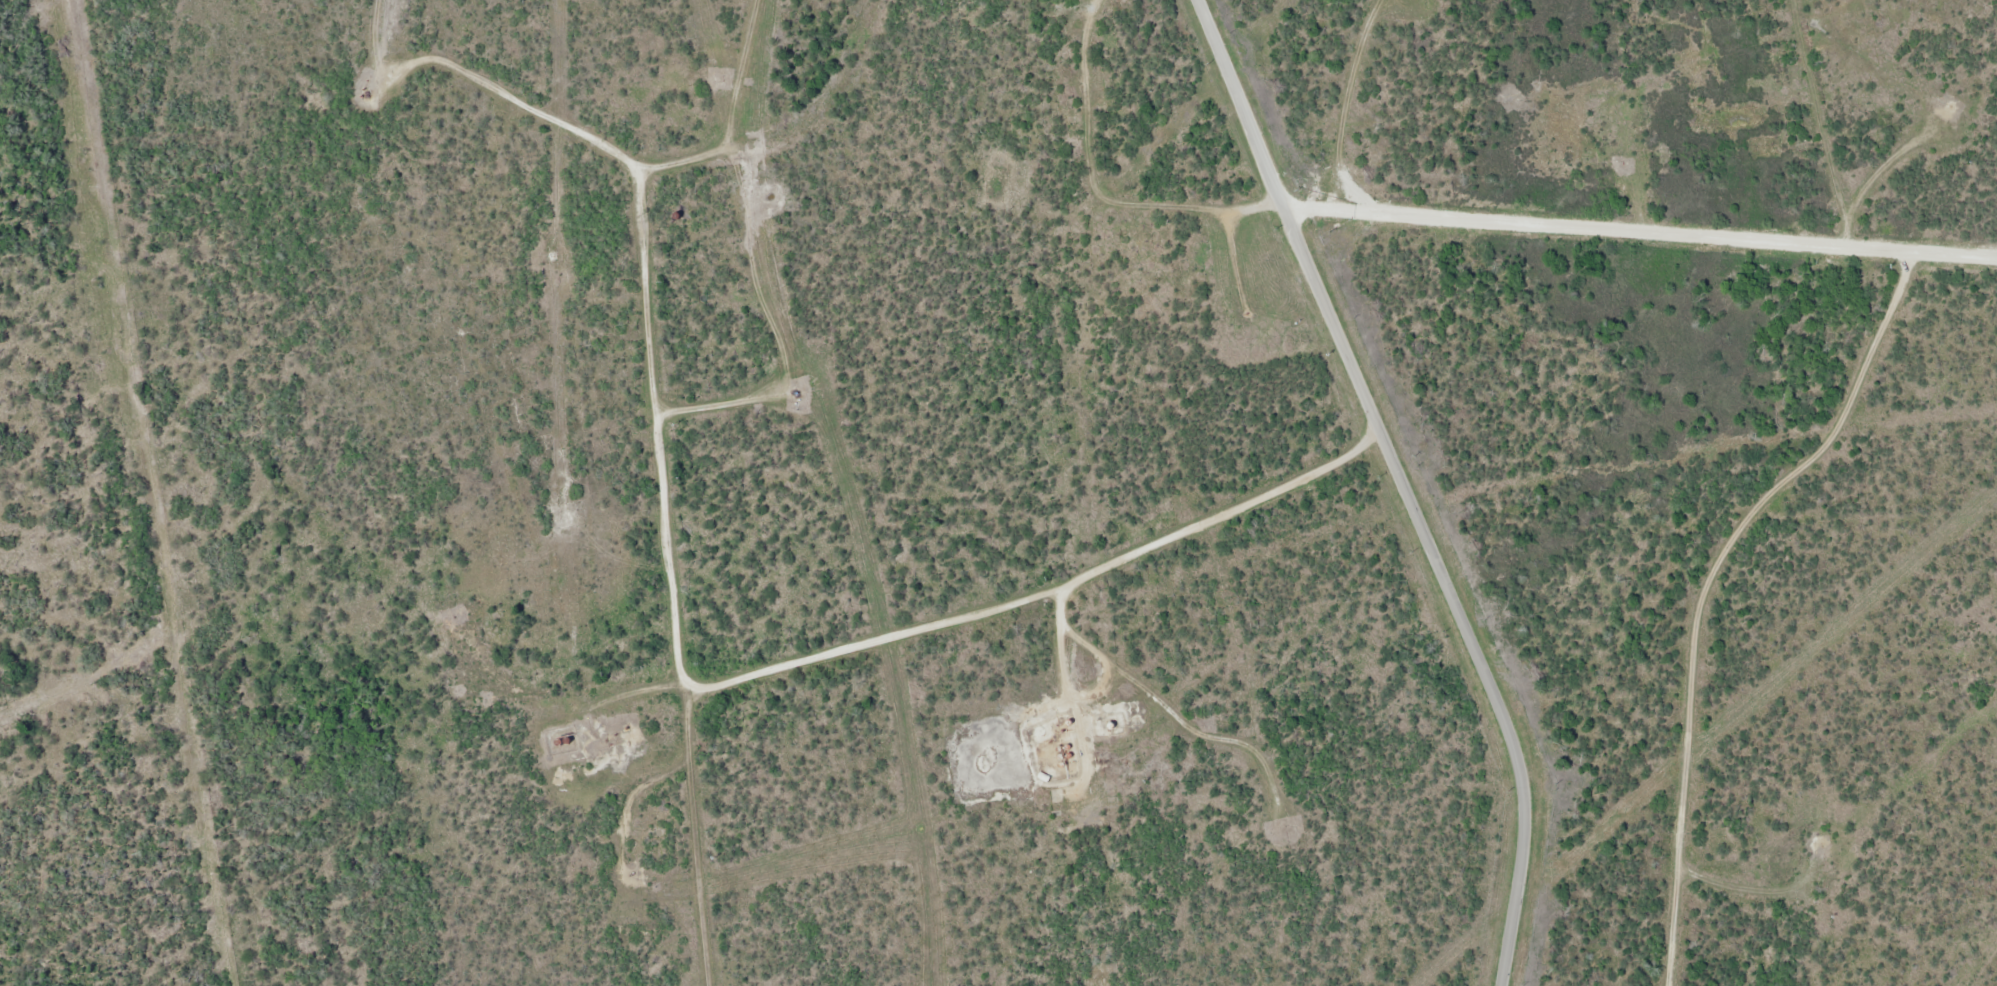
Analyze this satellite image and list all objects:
road: (1289, 218)
road: (1644, 230)
road: (656, 435)
road: (1691, 587)
road: (1046, 592)
road: (1499, 701)

